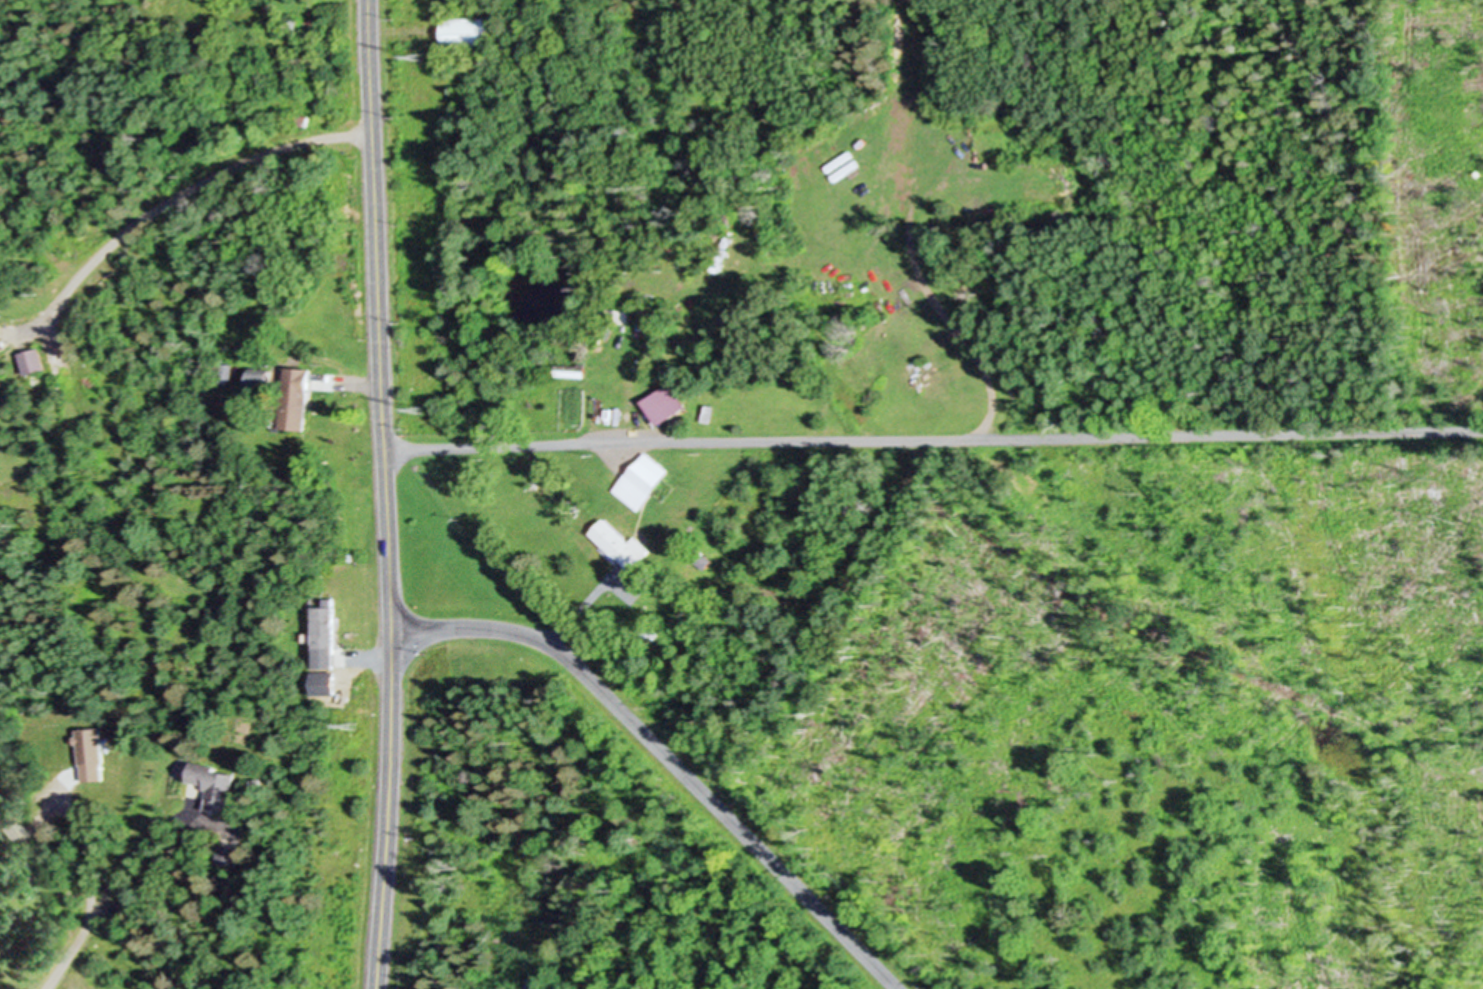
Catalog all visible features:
building: (469, 32)
road: (188, 188)
road: (927, 289)
building: (2, 340)
building: (34, 360)
building: (572, 369)
building: (264, 379)
road: (357, 384)
building: (297, 399)
building: (669, 403)
road: (934, 440)
building: (647, 480)
road: (388, 494)
building: (626, 544)
road: (582, 610)
building: (328, 638)
building: (92, 753)
road: (671, 757)
building: (214, 786)
road: (188, 816)
building: (229, 855)
road: (69, 950)

